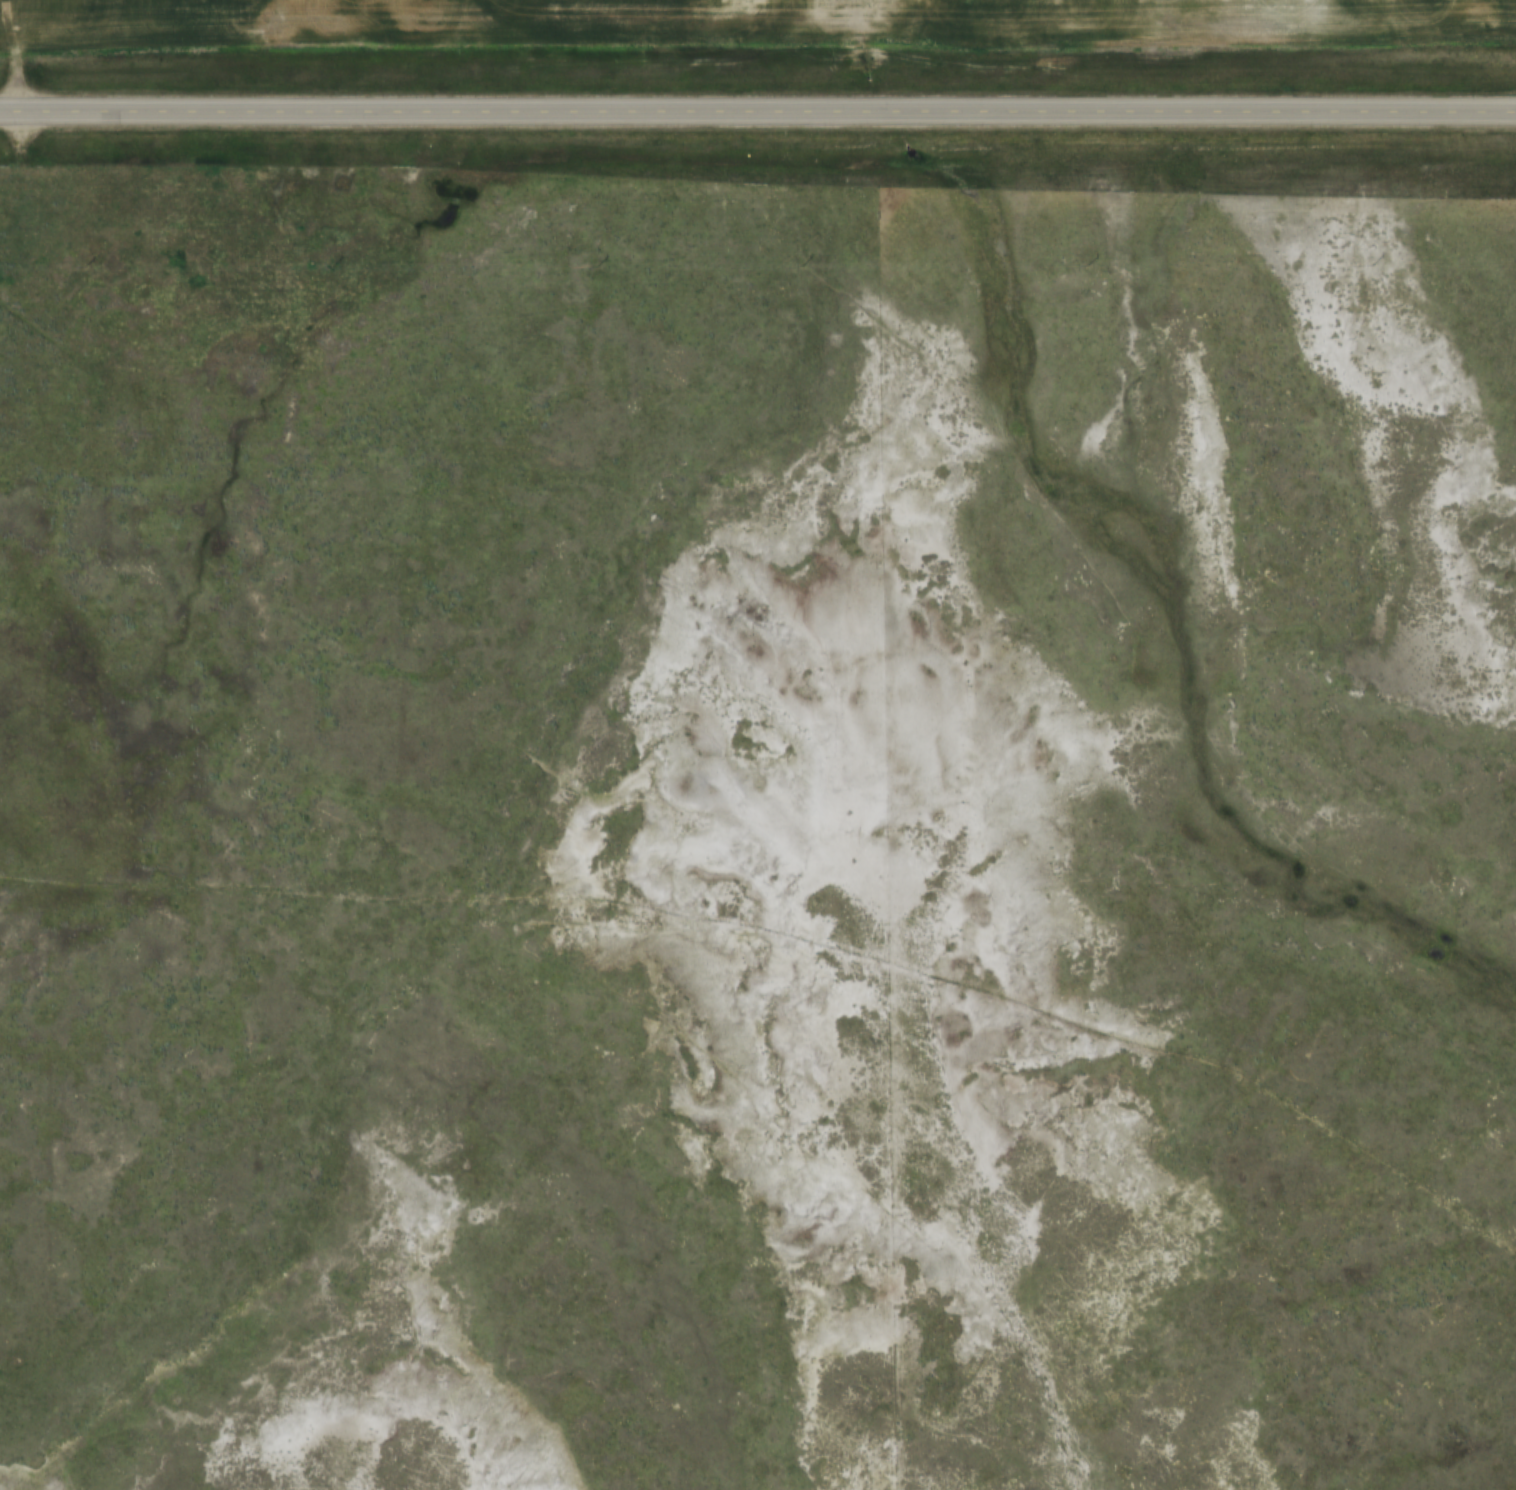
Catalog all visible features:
road: (758, 119)

